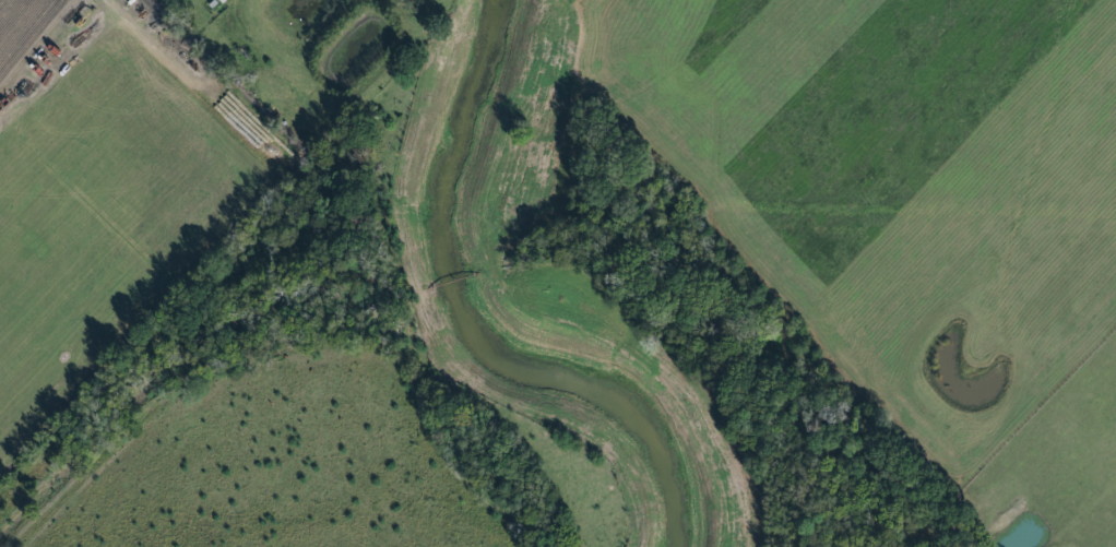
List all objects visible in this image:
road: (110, 1)

